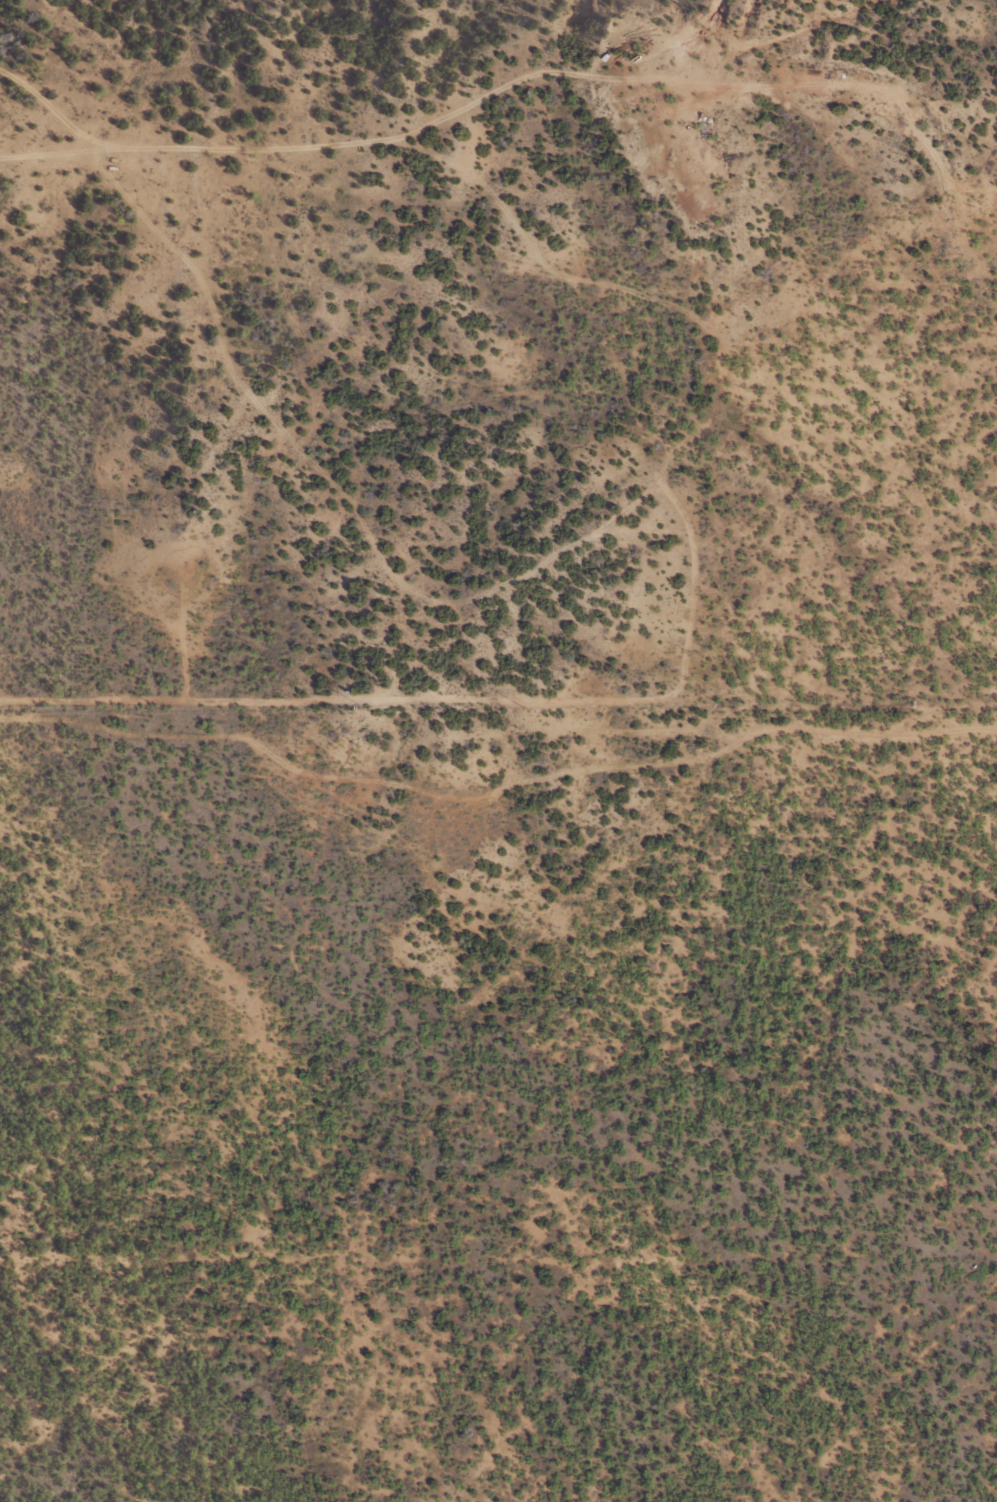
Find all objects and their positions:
building: (710, 41)

